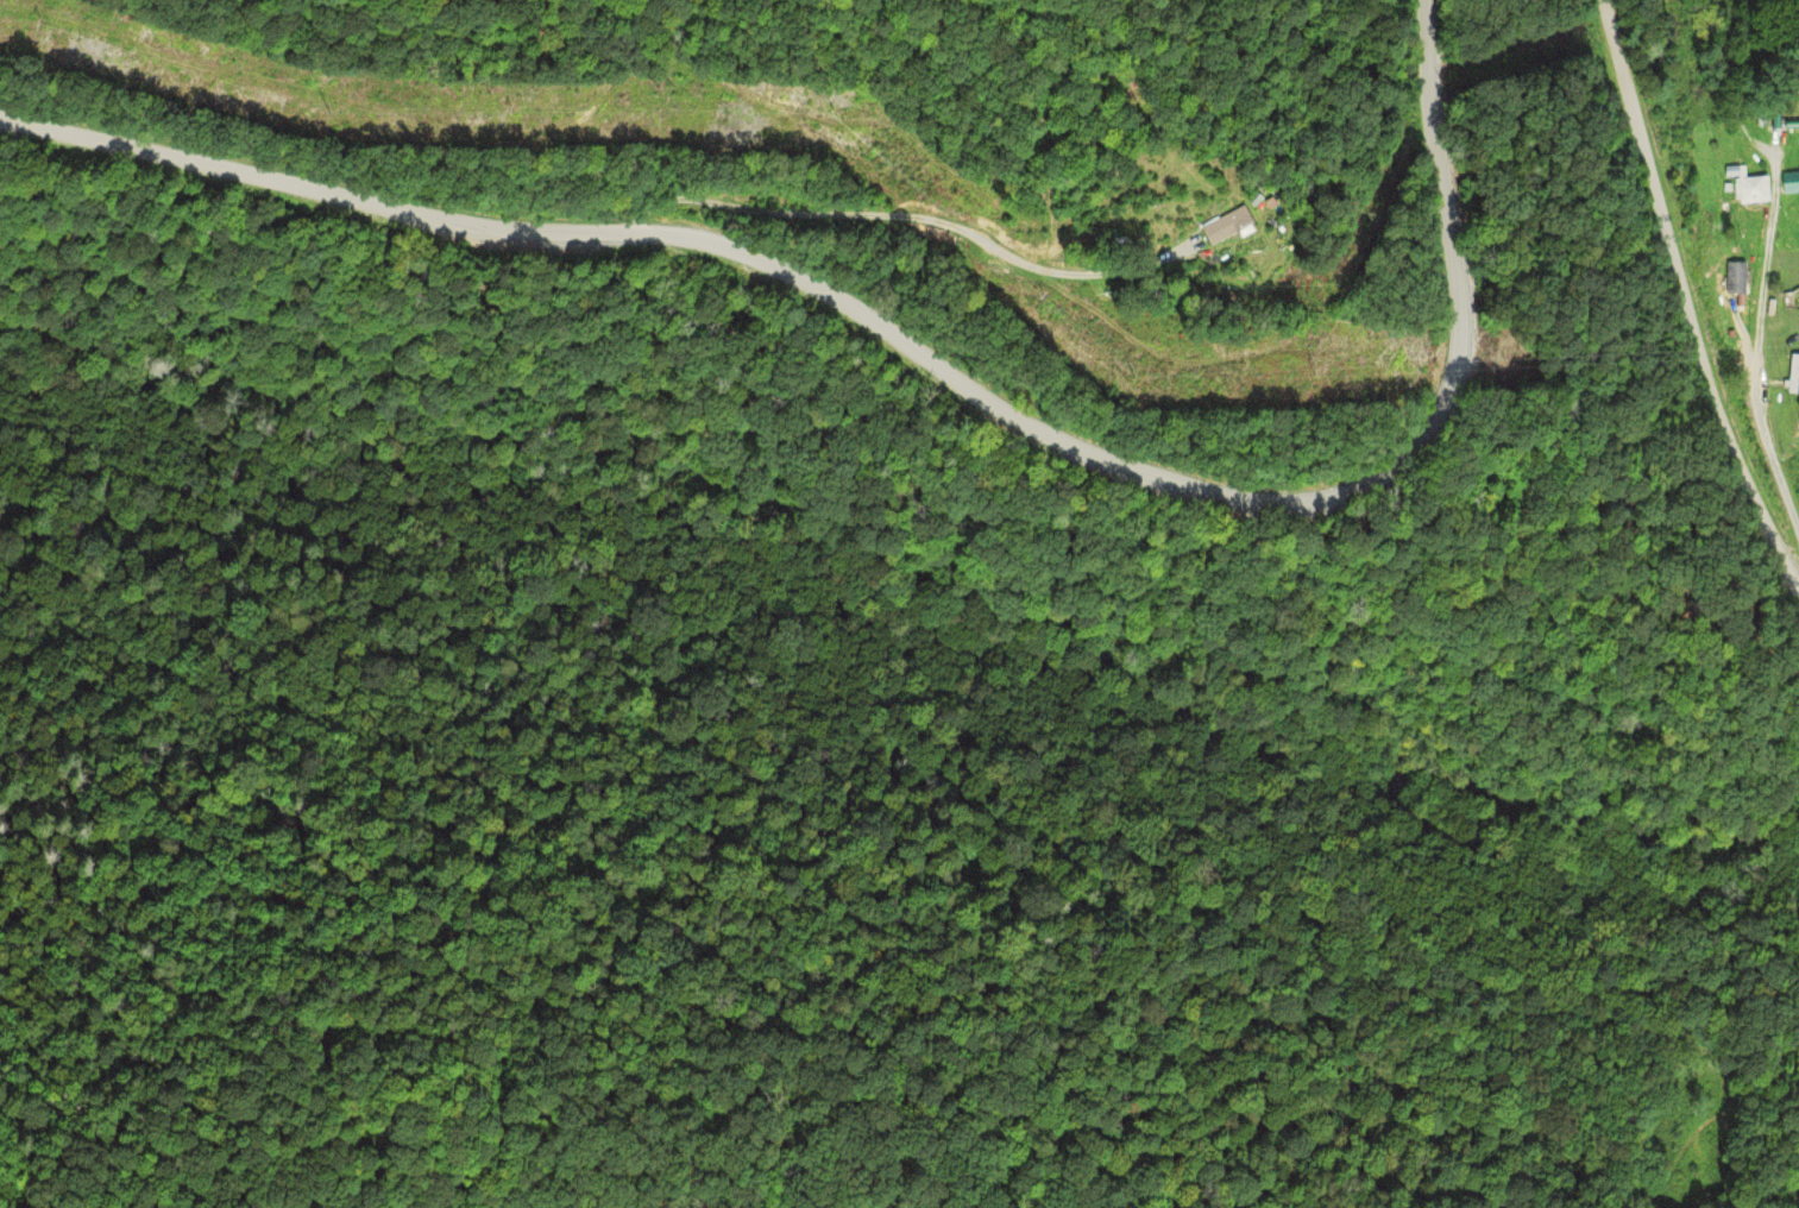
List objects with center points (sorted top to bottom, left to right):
building: (1778, 120)
building: (1788, 182)
building: (1750, 188)
road: (894, 220)
building: (1213, 224)
building: (1735, 277)
road: (1686, 283)
road: (1763, 341)
road: (936, 369)
building: (1793, 372)

